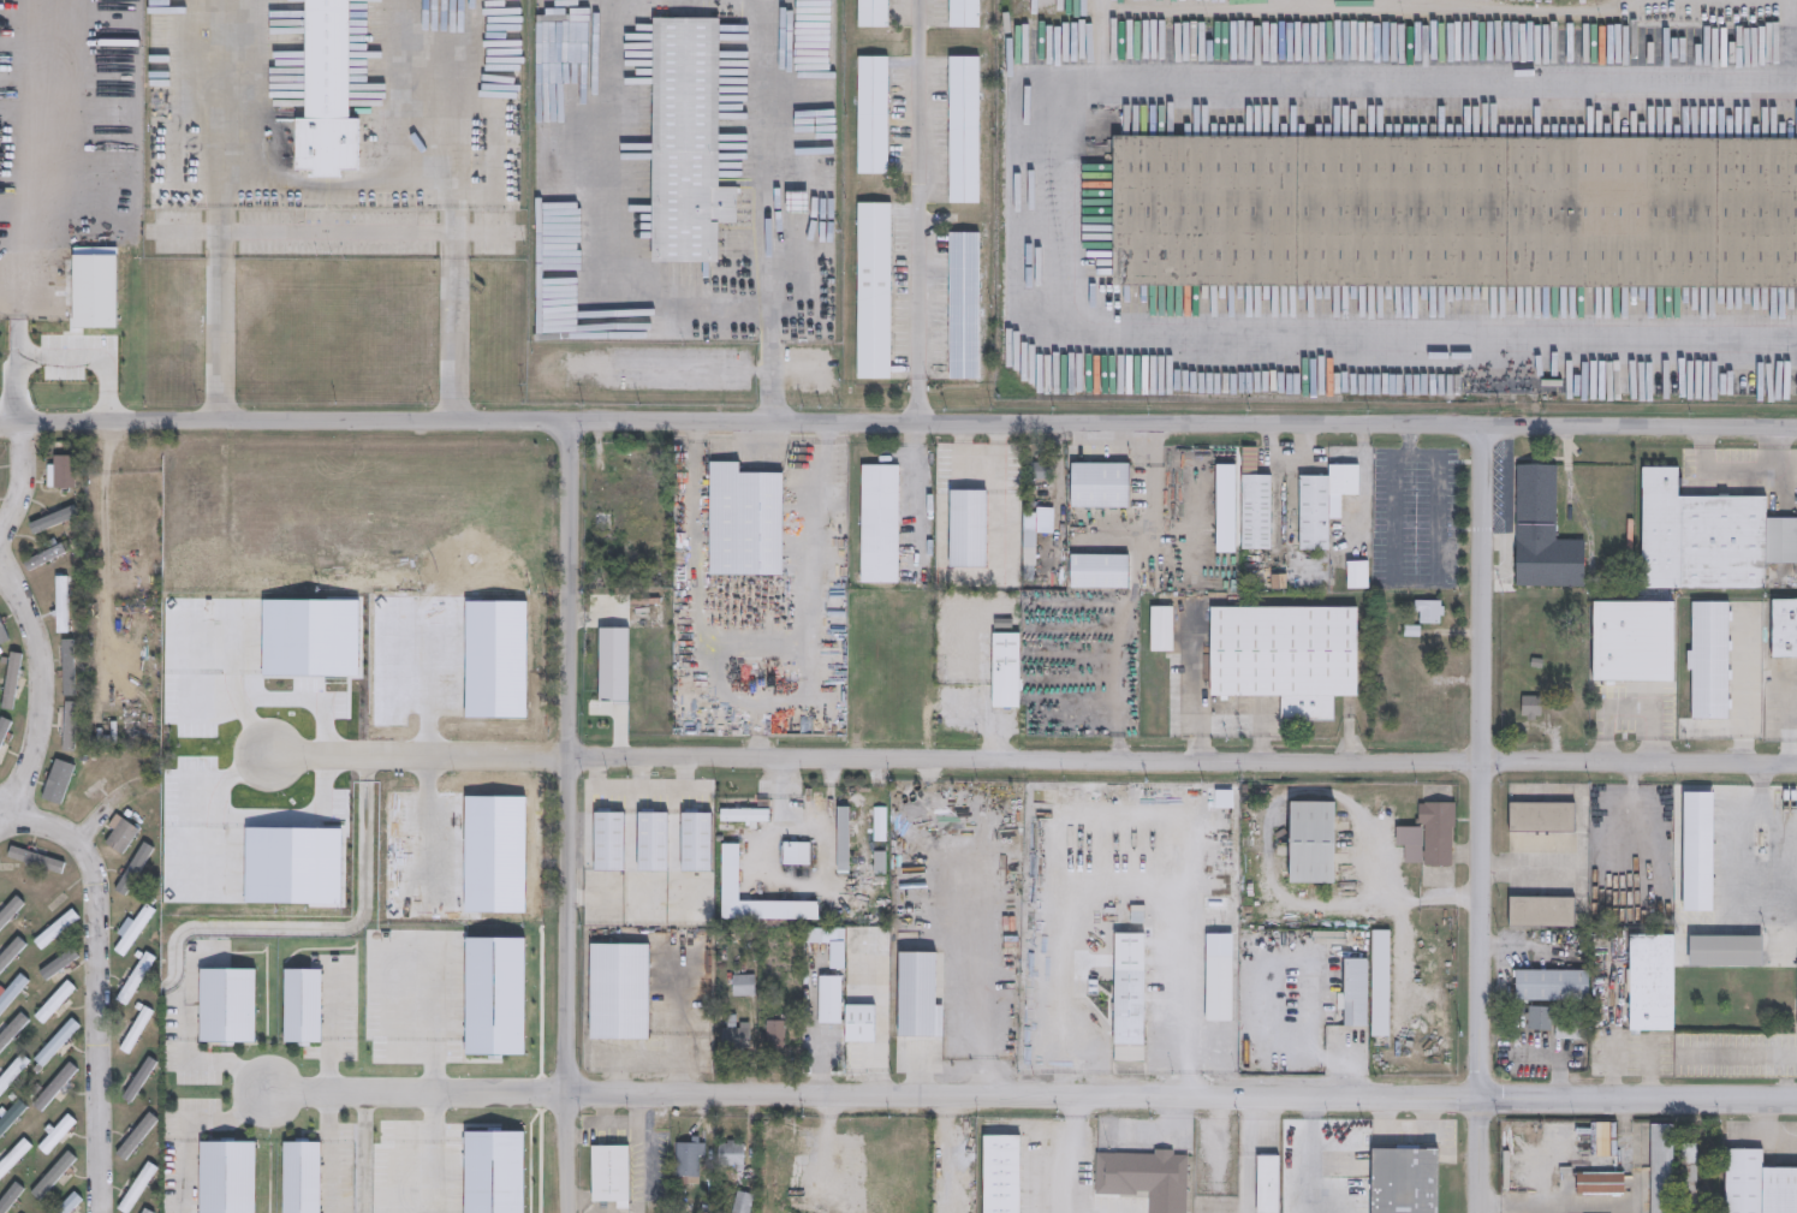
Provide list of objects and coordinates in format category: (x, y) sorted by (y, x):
building: (870, 13)
building: (963, 14)
road: (221, 89)
road: (413, 91)
building: (323, 95)
building: (871, 115)
building: (963, 130)
building: (685, 141)
road: (770, 147)
road: (335, 180)
building: (796, 201)
road: (918, 209)
building: (1454, 209)
road: (1042, 210)
road: (609, 225)
road: (338, 228)
building: (873, 290)
building: (963, 305)
road: (64, 357)
road: (769, 359)
road: (898, 420)
building: (60, 472)
building: (1037, 472)
building: (0, 477)
road: (22, 482)
building: (1100, 484)
building: (619, 489)
road: (917, 489)
building: (1325, 504)
building: (1256, 512)
building: (603, 522)
building: (742, 522)
building: (879, 524)
building: (966, 528)
building: (1540, 533)
building: (1707, 536)
building: (1029, 537)
building: (43, 561)
building: (1099, 571)
building: (1358, 575)
road: (1405, 579)
building: (60, 605)
building: (1429, 611)
building: (1745, 624)
building: (1162, 629)
building: (1783, 629)
building: (5, 630)
building: (1629, 641)
building: (1286, 656)
building: (1707, 660)
building: (69, 670)
building: (1006, 670)
building: (910, 679)
building: (16, 680)
road: (1745, 683)
road: (46, 685)
road: (279, 704)
building: (875, 706)
building: (1531, 706)
road: (1231, 712)
building: (69, 727)
road: (1350, 731)
road: (1795, 733)
building: (106, 735)
road: (1033, 759)
building: (50, 783)
road: (5, 807)
road: (1759, 809)
road: (5, 815)
road: (569, 815)
building: (744, 816)
road: (1483, 817)
building: (1541, 817)
road: (97, 821)
building: (1439, 832)
building: (121, 837)
building: (843, 840)
building: (880, 840)
building: (607, 842)
building: (650, 843)
building: (695, 843)
building: (1310, 843)
building: (1411, 844)
building: (796, 855)
road: (1727, 857)
road: (1762, 866)
building: (728, 874)
road: (1124, 879)
building: (1539, 912)
building: (12, 914)
road: (244, 927)
building: (56, 929)
building: (133, 930)
building: (1722, 952)
building: (135, 980)
building: (1381, 983)
building: (1648, 983)
building: (743, 986)
building: (1548, 986)
road: (101, 988)
building: (1129, 989)
building: (1219, 989)
building: (617, 992)
building: (11, 993)
building: (1356, 993)
building: (831, 999)
building: (53, 1003)
building: (228, 1005)
building: (303, 1006)
building: (1796, 1010)
building: (1553, 1023)
building: (859, 1025)
building: (137, 1029)
building: (774, 1035)
building: (734, 1036)
building: (55, 1042)
road: (1739, 1053)
building: (12, 1072)
building: (141, 1078)
building: (54, 1088)
road: (328, 1090)
road: (1031, 1093)
building: (11, 1118)
road: (190, 1126)
building: (55, 1135)
building: (1605, 1138)
building: (132, 1140)
road: (359, 1152)
building: (730, 1154)
building: (784, 1155)
building: (13, 1156)
building: (686, 1159)
building: (1659, 1167)
building: (1685, 1173)
building: (1001, 1175)
building: (228, 1176)
building: (302, 1176)
building: (618, 1176)
building: (1154, 1176)
building: (1405, 1182)
building: (138, 1183)
building: (1269, 1183)
building: (1600, 1183)
building: (1756, 1184)
building: (740, 1202)
building: (67, 1203)
building: (145, 1211)

